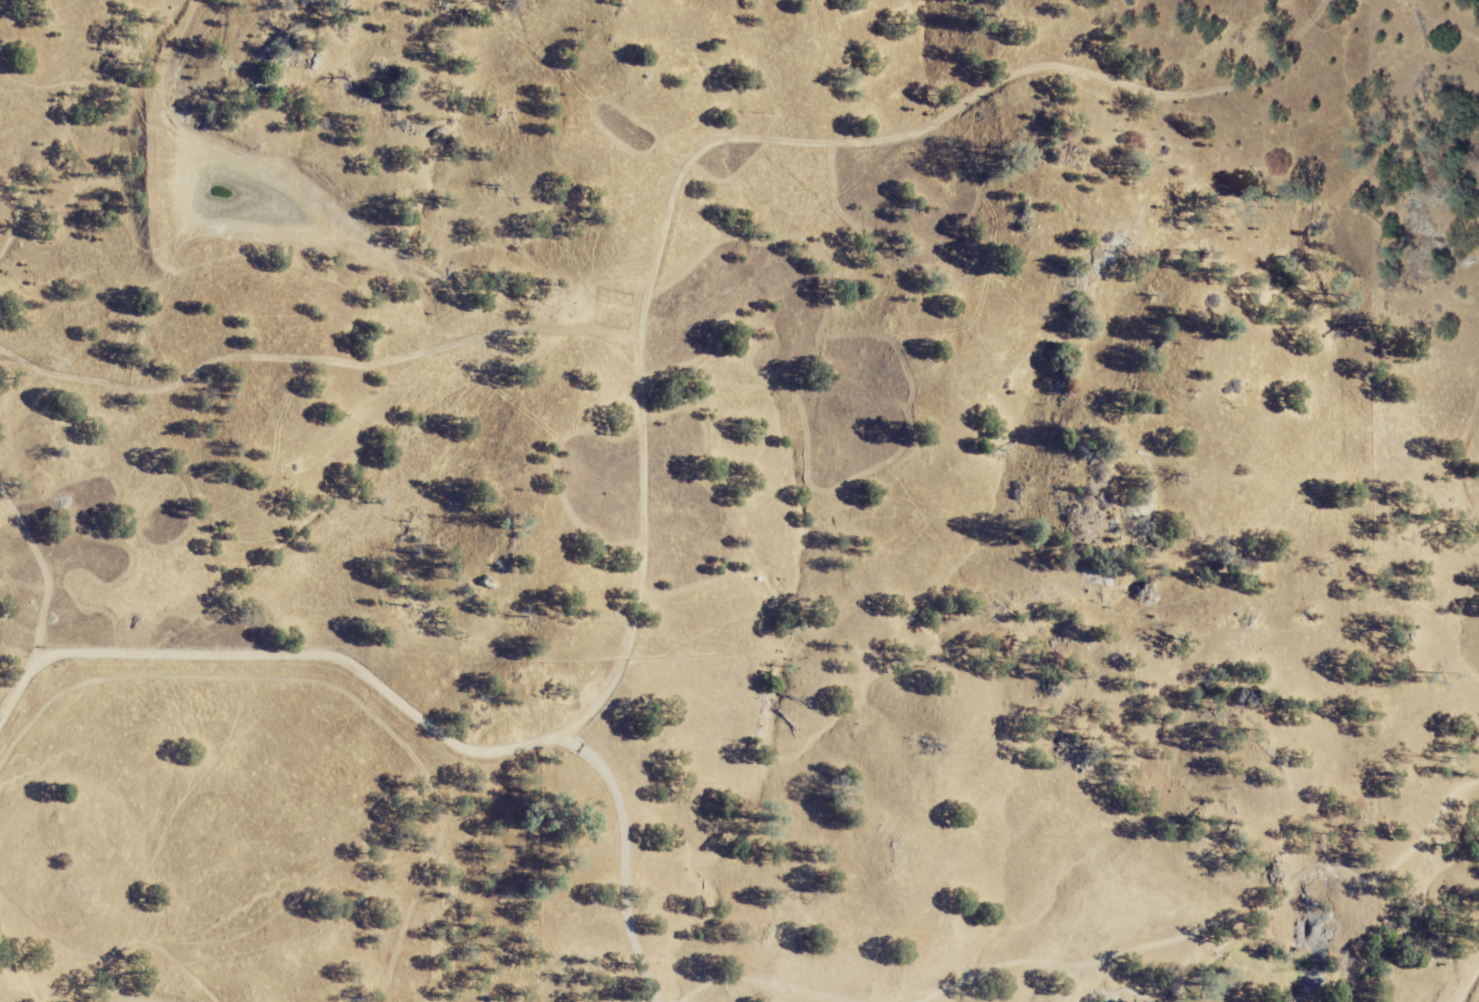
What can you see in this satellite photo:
road: (1315, 18)
road: (714, 144)
power tower: (56, 362)
road: (33, 528)
road: (278, 657)
road: (621, 857)

